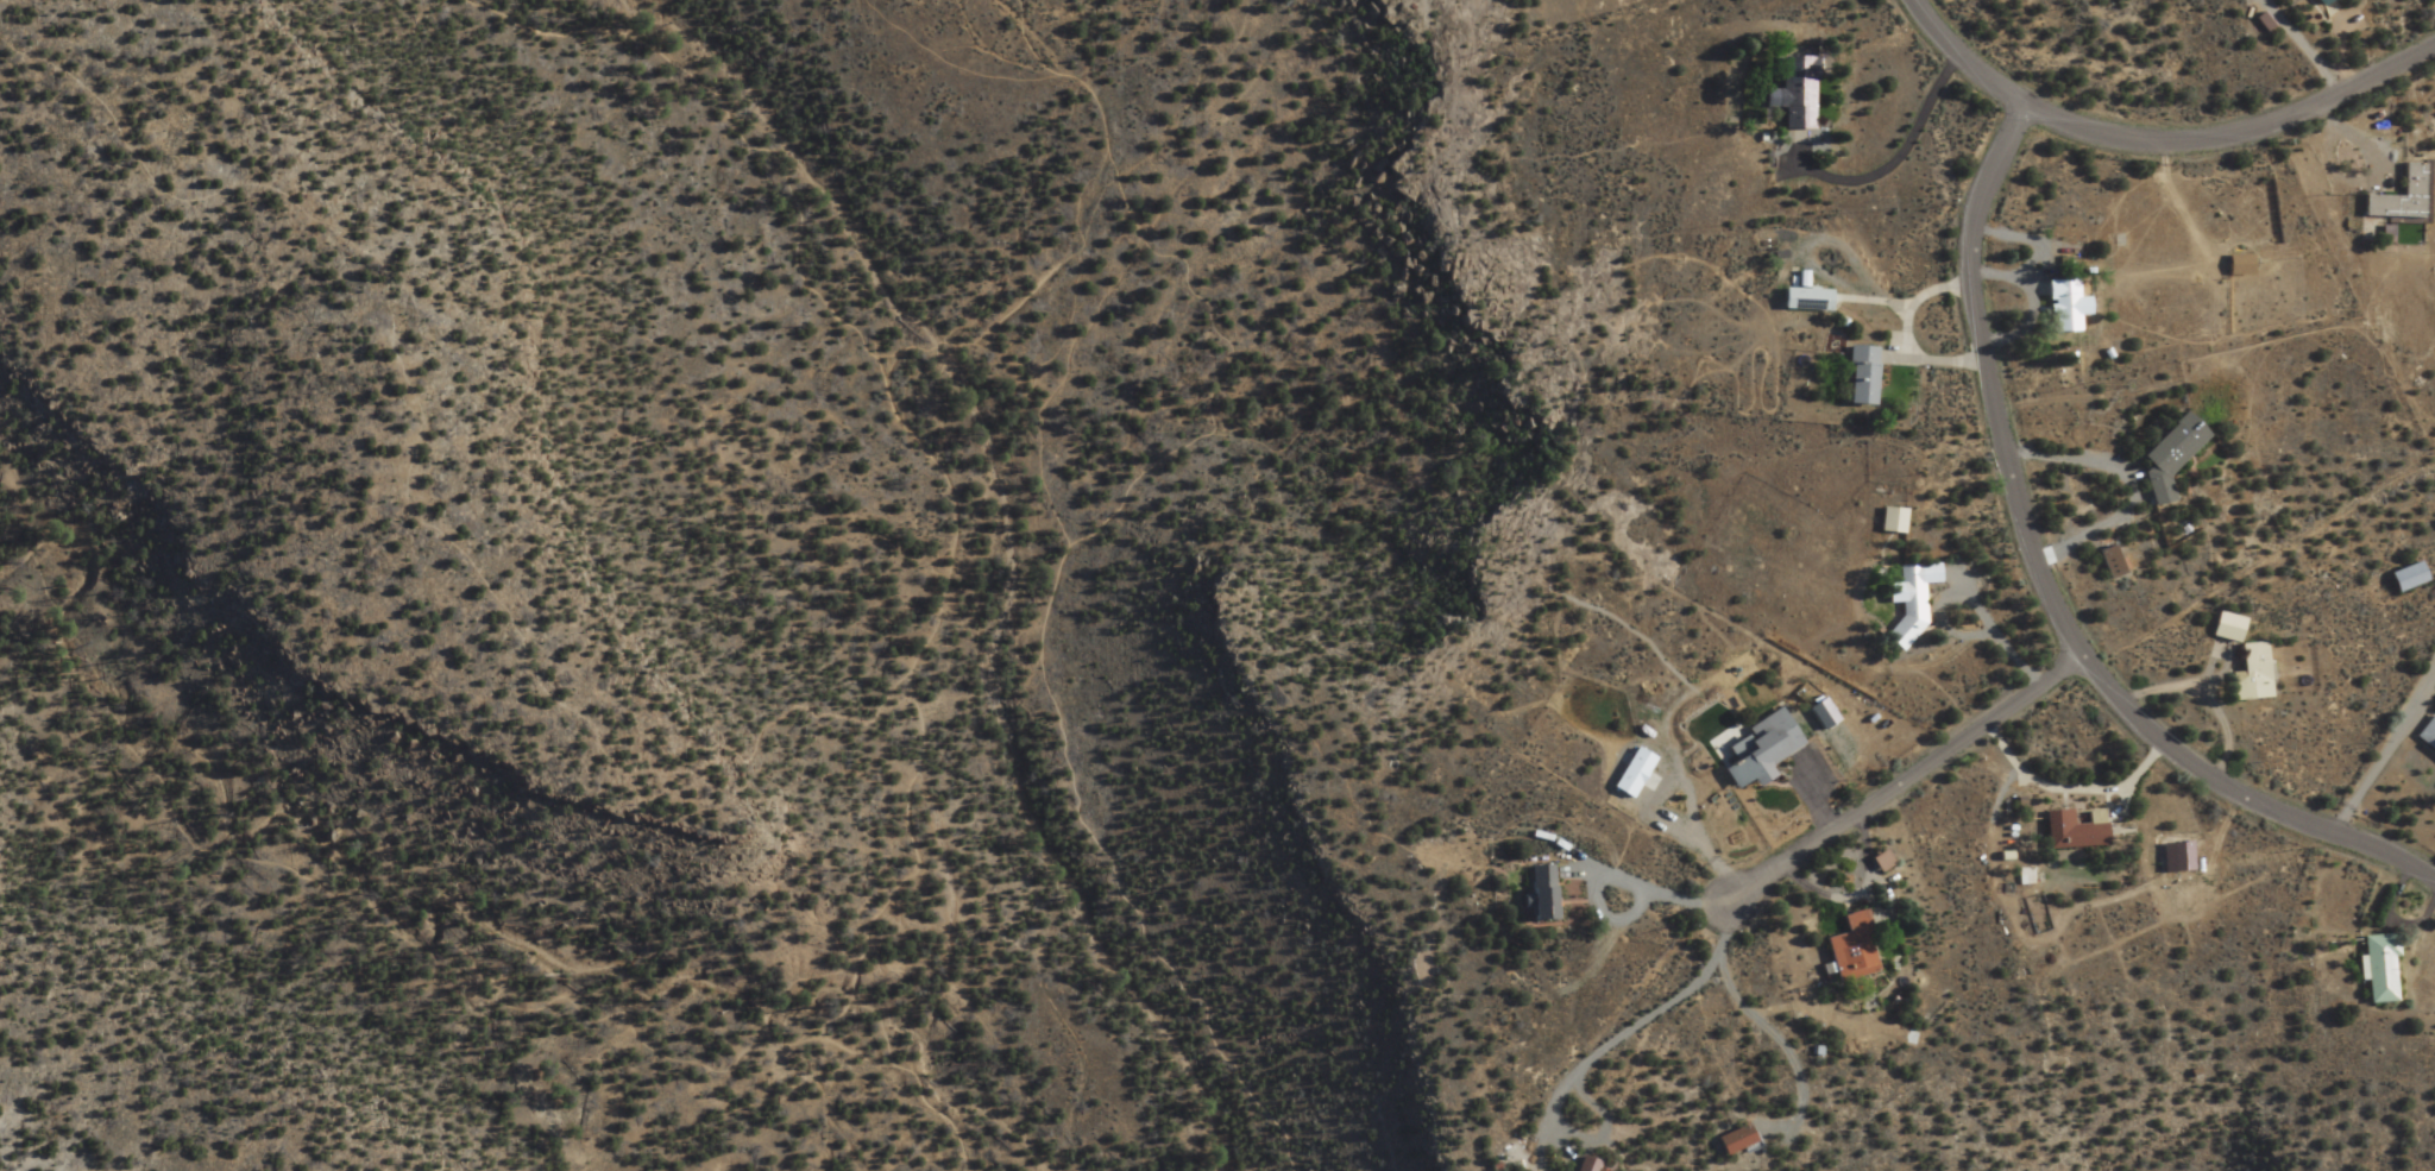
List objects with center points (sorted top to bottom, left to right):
building: (2315, 2)
road: (1953, 55)
building: (1792, 94)
road: (2230, 131)
building: (2395, 199)
building: (2236, 266)
road: (1012, 297)
building: (1805, 300)
building: (2062, 307)
building: (1858, 377)
road: (1058, 386)
building: (2166, 457)
road: (424, 461)
road: (932, 492)
building: (1889, 522)
road: (1082, 541)
road: (2264, 558)
building: (2106, 564)
building: (2402, 579)
road: (2052, 583)
building: (2248, 674)
building: (2425, 736)
building: (1756, 750)
road: (2383, 758)
road: (1909, 777)
road: (2071, 794)
building: (2071, 830)
road: (1636, 889)
building: (1540, 894)
building: (1849, 951)
building: (2378, 969)
road: (479, 978)
road: (1665, 1011)
road: (854, 1056)
building: (1732, 1141)
building: (1584, 1165)

